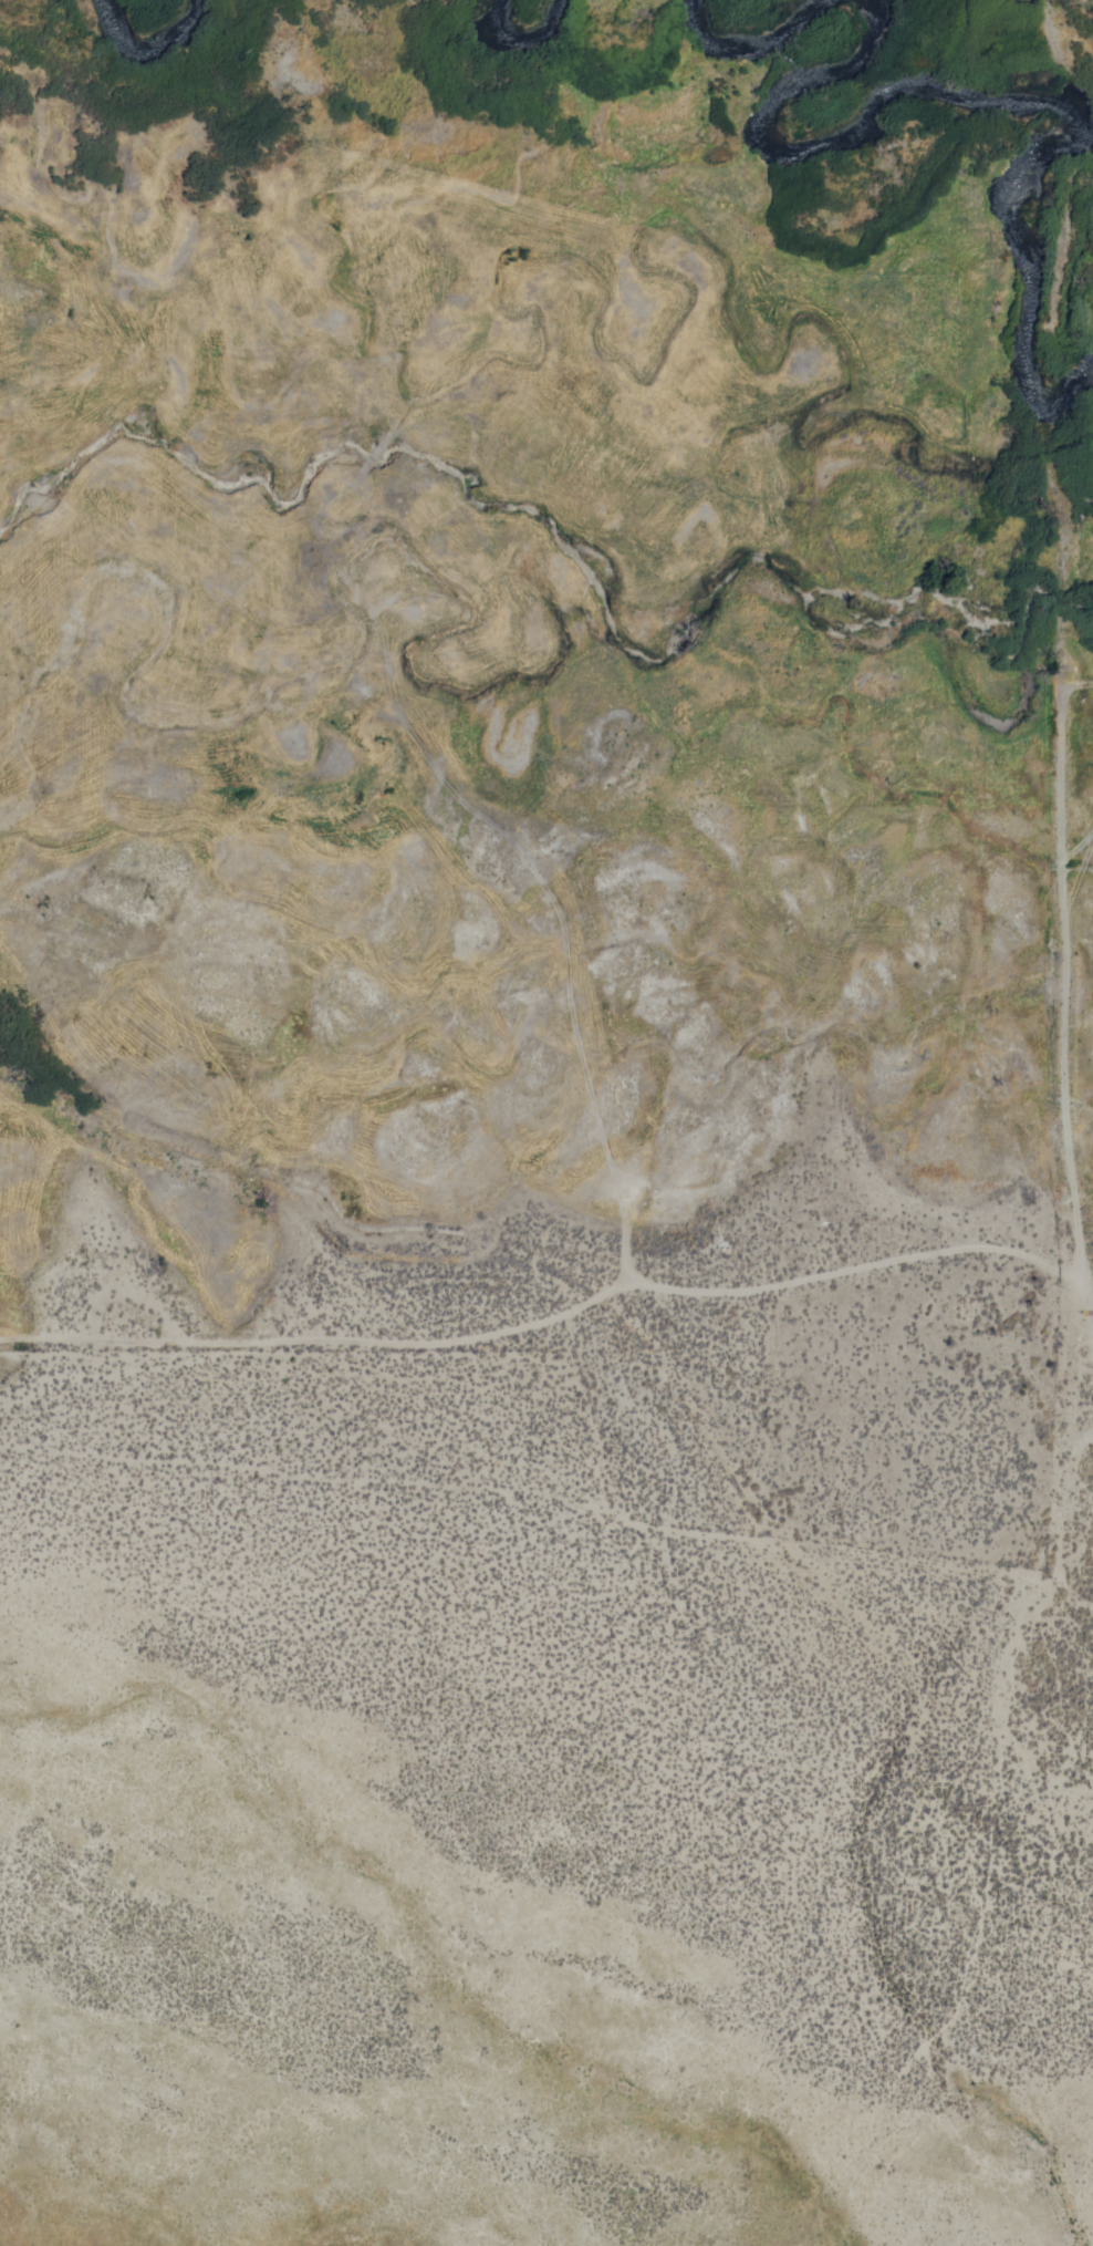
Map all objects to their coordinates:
river: (524, 7)
river: (142, 22)
river: (946, 106)
road: (1071, 1052)
road: (552, 1317)

